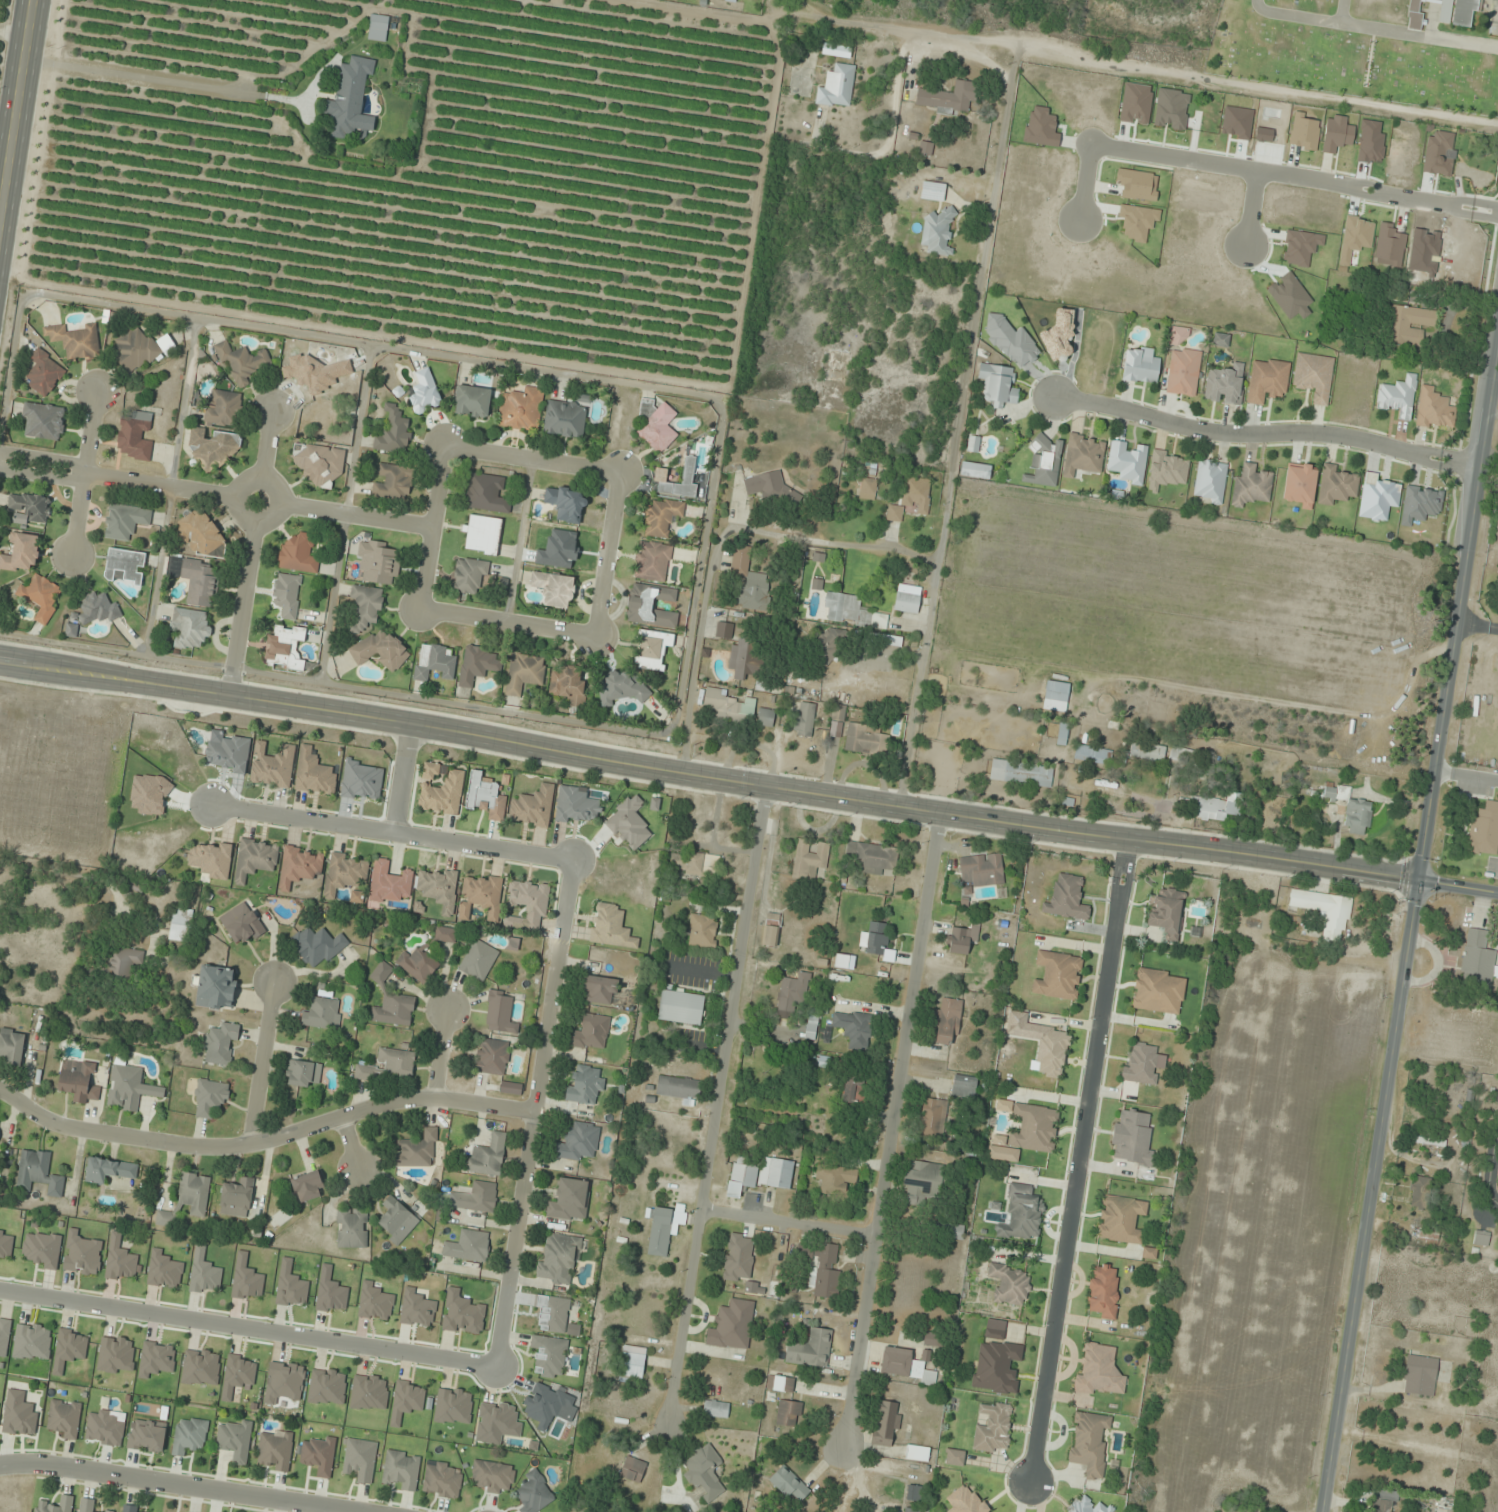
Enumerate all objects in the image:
building: (1456, 12)
building: (1415, 15)
building: (378, 28)
park: (1367, 49)
road: (1063, 50)
road: (14, 87)
building: (837, 87)
building: (948, 98)
building: (350, 99)
building: (1378, 138)
building: (1401, 142)
road: (1294, 178)
building: (1435, 180)
road: (1085, 183)
building: (932, 191)
road: (1250, 209)
building: (938, 232)
building: (1407, 325)
building: (1220, 340)
building: (76, 341)
building: (133, 350)
building: (838, 357)
building: (242, 362)
building: (1182, 365)
building: (1140, 366)
building: (315, 373)
building: (44, 374)
building: (835, 376)
building: (1313, 377)
building: (1267, 380)
building: (998, 384)
building: (1225, 385)
building: (424, 392)
building: (1398, 397)
building: (472, 401)
building: (222, 408)
building: (521, 410)
building: (565, 419)
building: (44, 420)
road: (957, 423)
building: (656, 426)
building: (394, 431)
road: (1264, 434)
building: (135, 436)
road: (266, 443)
building: (972, 444)
road: (447, 446)
building: (213, 448)
building: (1083, 454)
road: (44, 457)
building: (1044, 462)
building: (1127, 462)
building: (318, 464)
building: (975, 470)
building: (1167, 470)
road: (85, 472)
road: (43, 474)
building: (688, 475)
building: (1209, 481)
building: (393, 482)
building: (764, 485)
building: (1299, 485)
building: (1336, 485)
road: (159, 486)
building: (1251, 486)
building: (868, 488)
building: (486, 493)
building: (909, 499)
road: (234, 500)
building: (566, 504)
building: (30, 508)
road: (355, 515)
building: (660, 517)
building: (125, 520)
building: (201, 533)
building: (482, 535)
road: (518, 537)
building: (21, 553)
building: (298, 554)
road: (606, 554)
building: (652, 561)
building: (379, 562)
building: (125, 567)
building: (469, 576)
building: (197, 580)
building: (749, 581)
building: (553, 589)
building: (287, 595)
building: (40, 596)
building: (907, 599)
road: (242, 603)
building: (650, 606)
building: (365, 607)
road: (421, 609)
building: (852, 611)
building: (92, 612)
road: (1476, 625)
building: (189, 628)
building: (723, 630)
building: (883, 639)
building: (827, 644)
building: (284, 648)
building: (381, 649)
building: (652, 650)
building: (744, 661)
building: (432, 662)
building: (478, 665)
building: (524, 673)
building: (568, 684)
building: (620, 686)
road: (227, 689)
building: (1055, 696)
building: (729, 707)
building: (838, 712)
building: (765, 718)
building: (804, 719)
building: (1063, 734)
building: (865, 738)
building: (1145, 753)
building: (1092, 754)
building: (1182, 755)
building: (272, 765)
building: (430, 771)
building: (1021, 773)
building: (314, 774)
road: (708, 775)
road: (400, 777)
building: (1098, 788)
building: (442, 794)
building: (485, 797)
building: (533, 807)
building: (1216, 807)
building: (1351, 810)
building: (1484, 830)
building: (871, 857)
building: (255, 858)
building: (809, 858)
building: (694, 863)
building: (300, 865)
building: (982, 869)
building: (345, 873)
traffic signals: (1418, 881)
building: (389, 882)
road: (1458, 887)
building: (438, 888)
building: (354, 896)
building: (480, 896)
building: (1067, 898)
building: (530, 902)
building: (1325, 911)
building: (1167, 912)
road: (1411, 919)
building: (509, 922)
building: (242, 923)
building: (180, 924)
building: (610, 926)
building: (702, 930)
building: (771, 930)
road: (560, 931)
building: (445, 934)
building: (877, 938)
building: (963, 938)
building: (316, 945)
building: (1477, 956)
building: (478, 960)
building: (124, 962)
building: (417, 964)
building: (381, 973)
building: (1057, 975)
building: (216, 987)
building: (599, 990)
building: (1158, 990)
building: (680, 1007)
building: (394, 1010)
building: (500, 1012)
building: (322, 1013)
building: (947, 1021)
building: (853, 1028)
building: (811, 1029)
building: (591, 1032)
building: (221, 1044)
building: (12, 1046)
building: (1052, 1050)
road: (441, 1054)
building: (492, 1057)
road: (259, 1062)
building: (396, 1062)
building: (1141, 1063)
building: (365, 1071)
building: (303, 1074)
building: (79, 1080)
building: (584, 1085)
building: (128, 1086)
building: (963, 1086)
building: (678, 1088)
building: (854, 1088)
building: (210, 1098)
road: (716, 1102)
building: (932, 1118)
building: (1034, 1128)
road: (888, 1129)
road: (1492, 1137)
road: (263, 1139)
building: (1132, 1139)
building: (578, 1141)
road: (348, 1143)
building: (1429, 1144)
building: (417, 1150)
building: (487, 1156)
road: (1077, 1158)
building: (108, 1170)
building: (38, 1173)
building: (776, 1173)
road: (1487, 1174)
building: (741, 1176)
building: (836, 1180)
building: (923, 1182)
building: (308, 1186)
building: (1419, 1192)
building: (189, 1197)
building: (476, 1197)
building: (236, 1199)
building: (570, 1200)
building: (1022, 1213)
building: (1120, 1219)
building: (397, 1221)
road: (785, 1223)
building: (352, 1228)
building: (664, 1228)
building: (954, 1231)
building: (1428, 1234)
building: (1481, 1238)
building: (468, 1246)
building: (42, 1249)
building: (81, 1254)
building: (558, 1257)
building: (738, 1257)
building: (820, 1266)
building: (1009, 1284)
building: (1103, 1290)
building: (331, 1293)
building: (552, 1314)
building: (732, 1325)
road: (248, 1328)
building: (5, 1336)
building: (930, 1339)
building: (33, 1341)
building: (811, 1349)
building: (549, 1355)
building: (996, 1363)
building: (632, 1364)
building: (905, 1365)
building: (1099, 1371)
building: (1420, 1375)
building: (283, 1381)
building: (780, 1383)
building: (406, 1399)
building: (715, 1408)
building: (789, 1413)
building: (19, 1414)
building: (64, 1418)
building: (886, 1423)
building: (993, 1427)
building: (104, 1428)
building: (189, 1434)
building: (147, 1436)
building: (234, 1438)
building: (1088, 1443)
building: (275, 1449)
building: (917, 1453)
building: (319, 1455)
building: (954, 1457)
building: (359, 1459)
building: (633, 1469)
building: (400, 1470)
building: (704, 1471)
building: (492, 1476)
building: (441, 1480)
building: (789, 1484)
road: (180, 1485)
building: (534, 1493)
building: (913, 1493)
building: (966, 1500)
building: (54, 1505)
building: (88, 1505)
building: (1382, 1505)
building: (1088, 1506)
building: (132, 1509)
building: (911, 1510)

